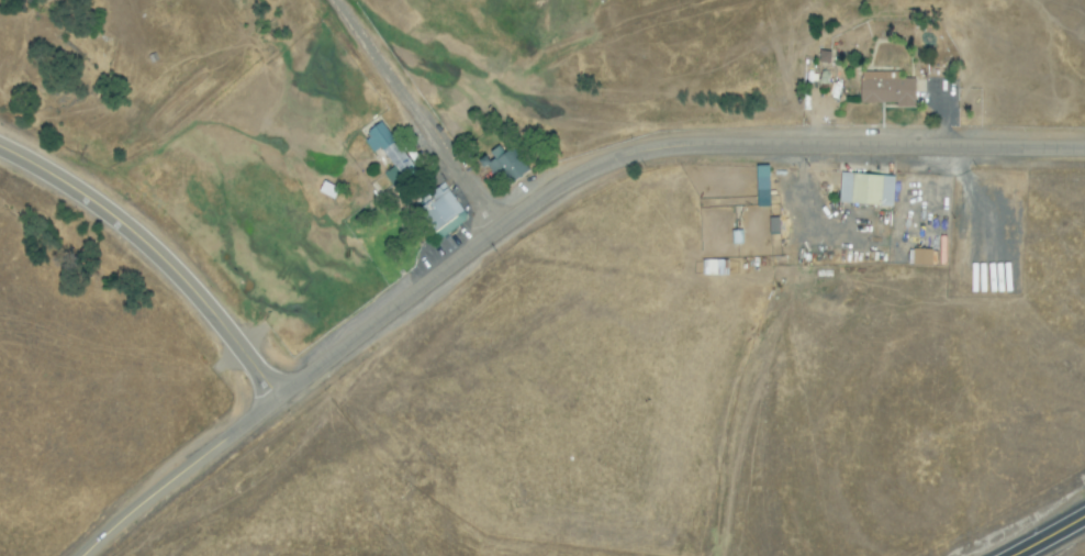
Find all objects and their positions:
building: (884, 90)
road: (416, 113)
park: (235, 120)
road: (644, 148)
building: (389, 156)
building: (505, 165)
building: (761, 187)
building: (865, 191)
building: (440, 211)
road: (156, 252)
building: (920, 258)
road: (181, 472)
road: (1048, 535)

